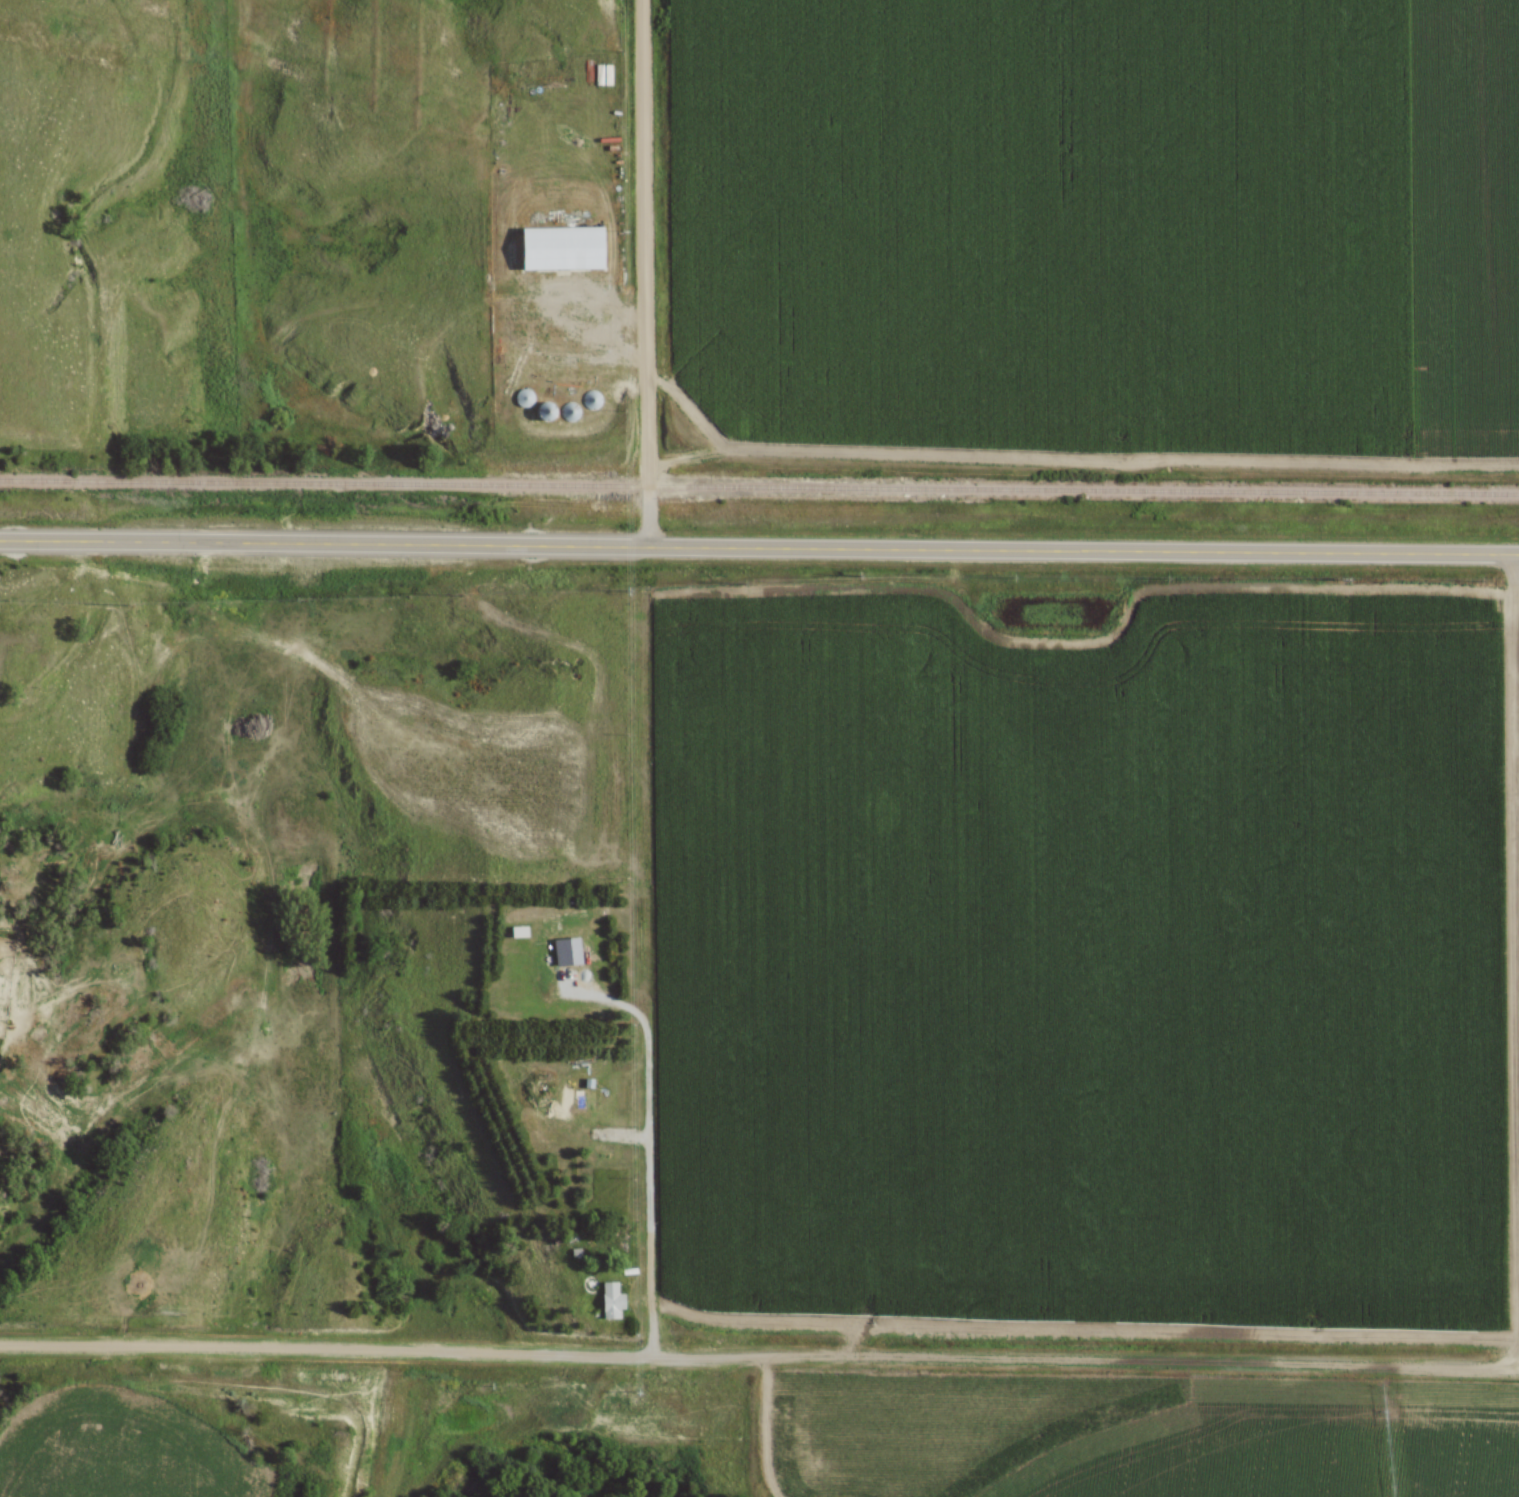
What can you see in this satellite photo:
crop: (1092, 220)
building: (551, 241)
road: (645, 274)
railway: (759, 488)
road: (759, 549)
road: (1510, 894)
crop: (1069, 958)
building: (596, 1100)
road: (640, 1179)
building: (605, 1299)
road: (762, 1362)
crop: (1278, 1445)

